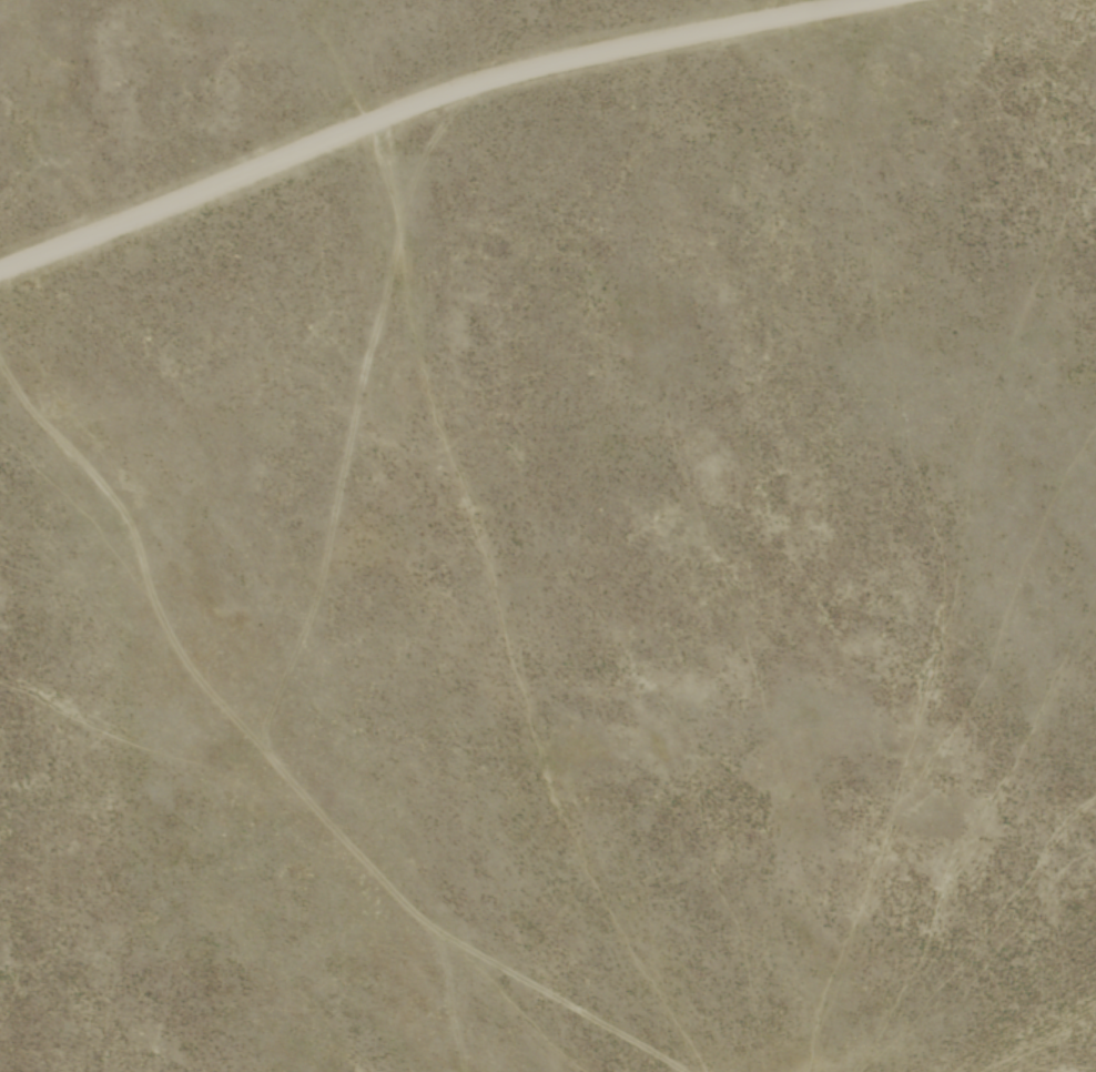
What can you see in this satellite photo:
road: (422, 104)

